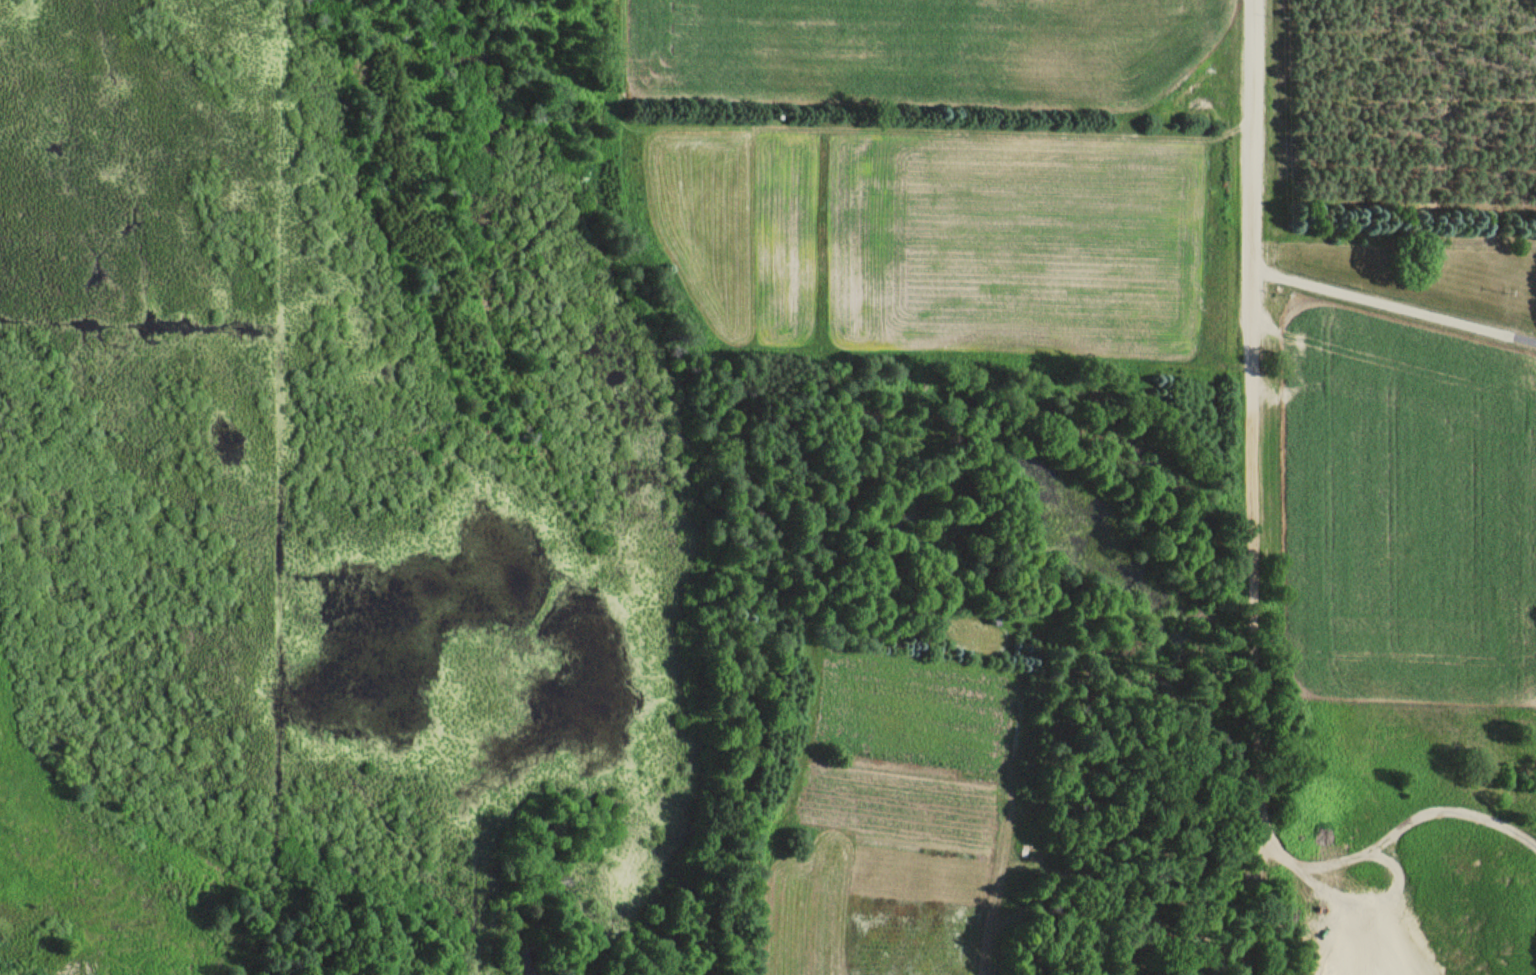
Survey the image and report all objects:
road: (1254, 153)
road: (1382, 302)
road: (1523, 338)
road: (1283, 391)
road: (1257, 606)
road: (1270, 902)
quarry: (1368, 928)

